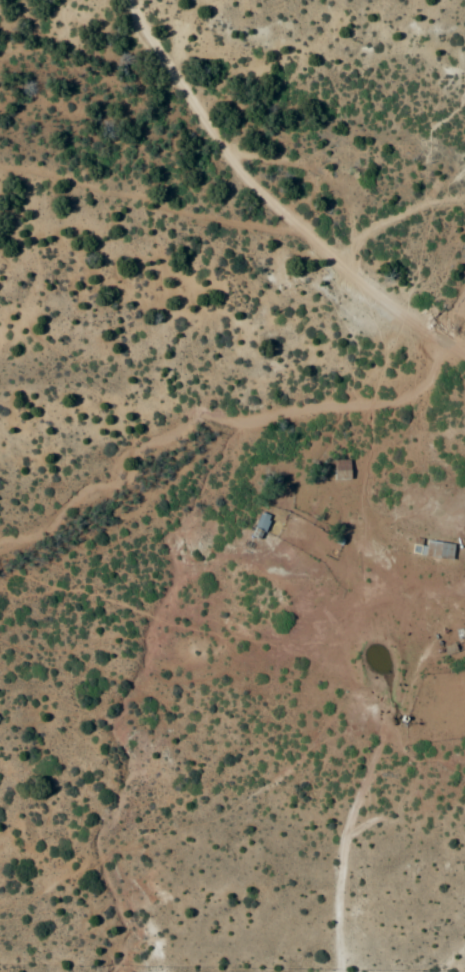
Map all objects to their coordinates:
road: (273, 201)
building: (342, 470)
building: (260, 527)
building: (433, 549)
road: (373, 758)

